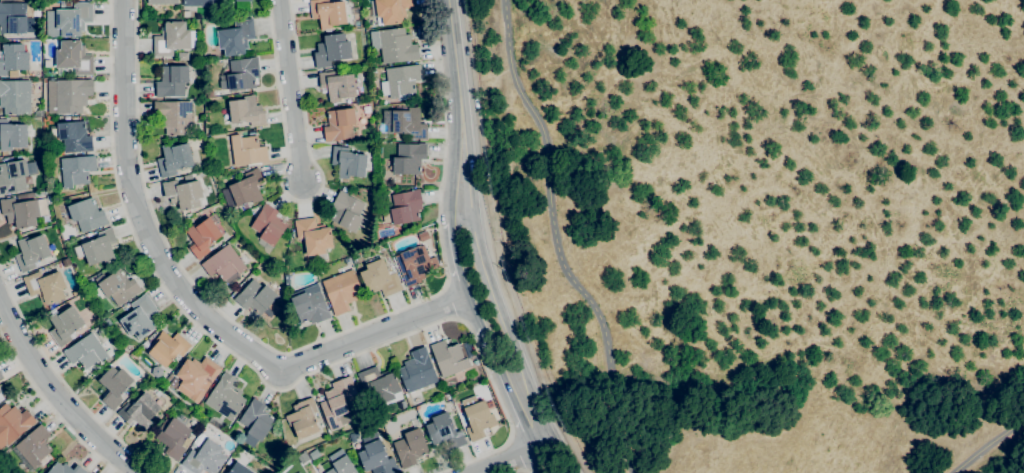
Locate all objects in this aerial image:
building: (243, 0)
building: (162, 2)
building: (198, 2)
building: (390, 10)
building: (328, 13)
building: (72, 17)
building: (12, 18)
building: (235, 37)
building: (172, 38)
building: (393, 45)
building: (331, 50)
road: (452, 53)
building: (182, 56)
building: (72, 57)
building: (13, 58)
building: (335, 64)
building: (12, 74)
building: (240, 74)
building: (172, 81)
building: (400, 81)
building: (337, 85)
road: (290, 91)
building: (72, 94)
building: (15, 96)
building: (36, 97)
building: (246, 111)
building: (175, 116)
building: (404, 122)
building: (339, 124)
building: (12, 135)
building: (74, 136)
building: (246, 150)
building: (174, 158)
building: (408, 158)
building: (348, 162)
road: (452, 165)
building: (76, 170)
building: (15, 175)
building: (245, 190)
building: (183, 192)
road: (303, 200)
building: (403, 207)
building: (23, 211)
building: (346, 211)
building: (86, 214)
building: (268, 225)
park: (766, 225)
building: (313, 235)
building: (202, 237)
road: (553, 240)
building: (99, 247)
building: (31, 252)
road: (452, 261)
building: (224, 265)
building: (414, 265)
building: (379, 278)
building: (45, 286)
building: (117, 286)
building: (341, 291)
building: (257, 297)
road: (491, 297)
road: (188, 298)
road: (451, 300)
building: (309, 304)
road: (470, 313)
building: (138, 318)
building: (65, 325)
road: (307, 344)
building: (168, 348)
building: (85, 351)
building: (448, 358)
building: (417, 370)
building: (1, 375)
building: (196, 377)
road: (259, 377)
building: (168, 378)
building: (174, 382)
road: (64, 383)
building: (381, 385)
building: (114, 386)
road: (502, 388)
building: (0, 390)
road: (59, 396)
building: (226, 397)
building: (1, 398)
building: (336, 401)
road: (52, 408)
building: (139, 411)
building: (477, 418)
building: (303, 419)
building: (255, 422)
building: (12, 423)
building: (444, 431)
building: (173, 437)
road: (987, 442)
building: (34, 446)
building: (410, 447)
building: (314, 454)
road: (514, 455)
road: (517, 455)
building: (204, 458)
building: (376, 459)
road: (538, 460)
building: (340, 463)
building: (242, 467)
building: (65, 469)
road: (520, 472)

